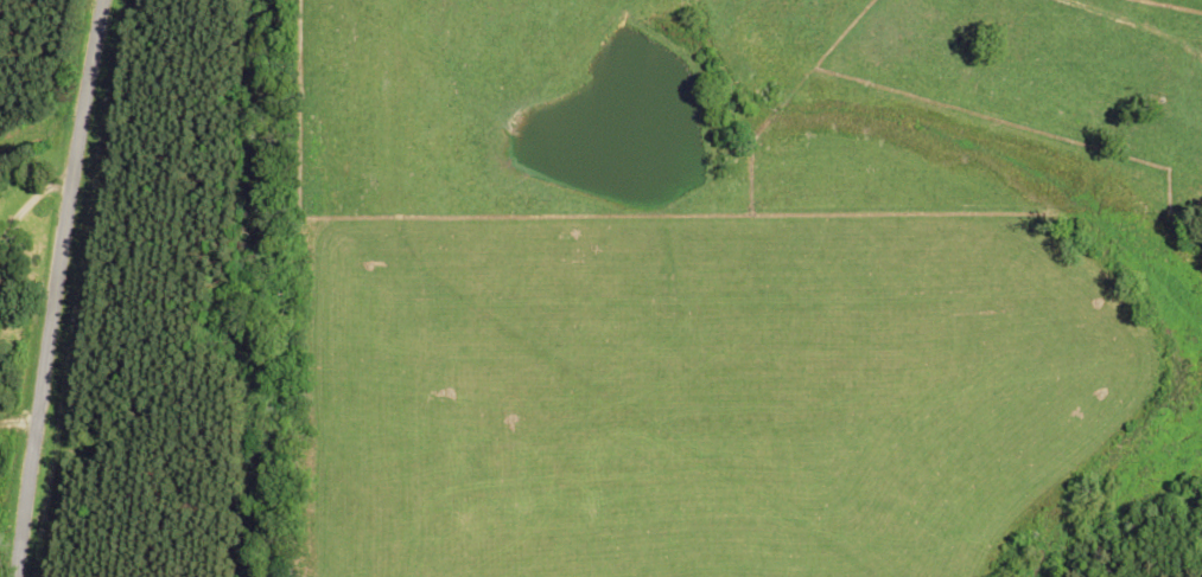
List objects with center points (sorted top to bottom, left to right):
road: (1010, 50)
road: (56, 288)

